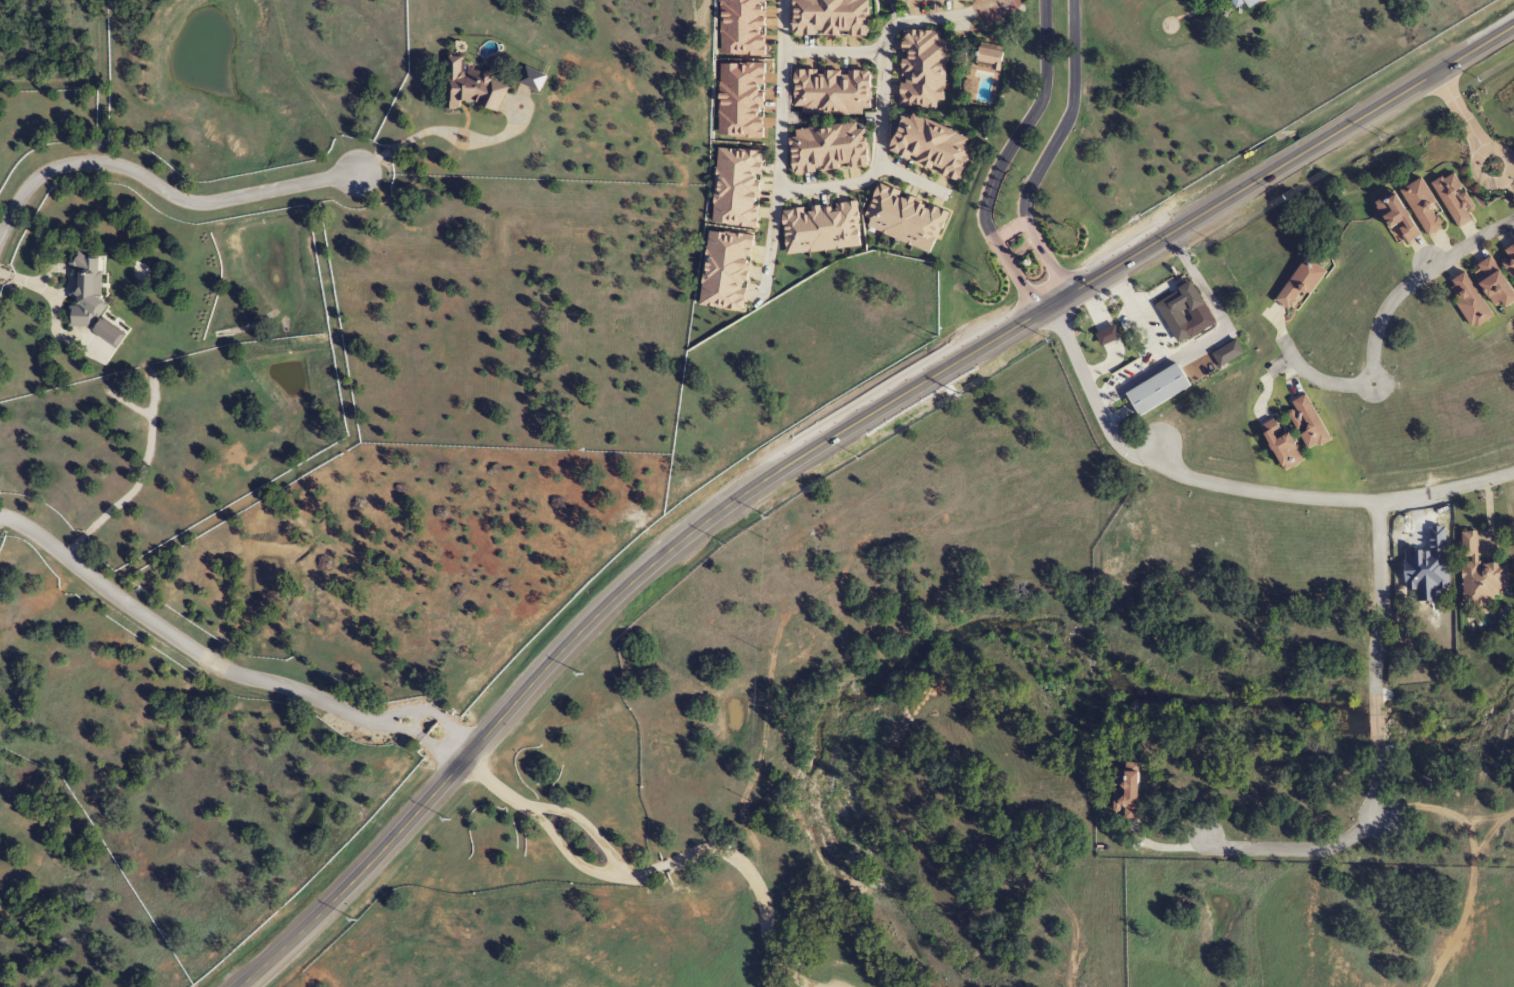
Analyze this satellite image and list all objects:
building: (926, 0)
road: (982, 3)
building: (1238, 4)
building: (831, 18)
road: (929, 18)
building: (990, 55)
building: (922, 69)
building: (471, 88)
building: (831, 92)
road: (1472, 139)
building: (931, 147)
building: (828, 148)
road: (1504, 154)
road: (1047, 155)
road: (1001, 161)
road: (777, 179)
road: (156, 187)
building: (1454, 199)
building: (1424, 207)
building: (1397, 216)
road: (1009, 231)
road: (771, 238)
building: (1509, 255)
building: (1494, 283)
building: (1300, 284)
building: (90, 299)
building: (1469, 301)
building: (1180, 311)
road: (1380, 316)
building: (1227, 354)
building: (1158, 390)
building: (1310, 425)
road: (826, 442)
building: (1281, 445)
road: (1235, 485)
building: (1479, 574)
road: (1377, 659)
road: (221, 667)
building: (1127, 790)
road: (655, 878)

